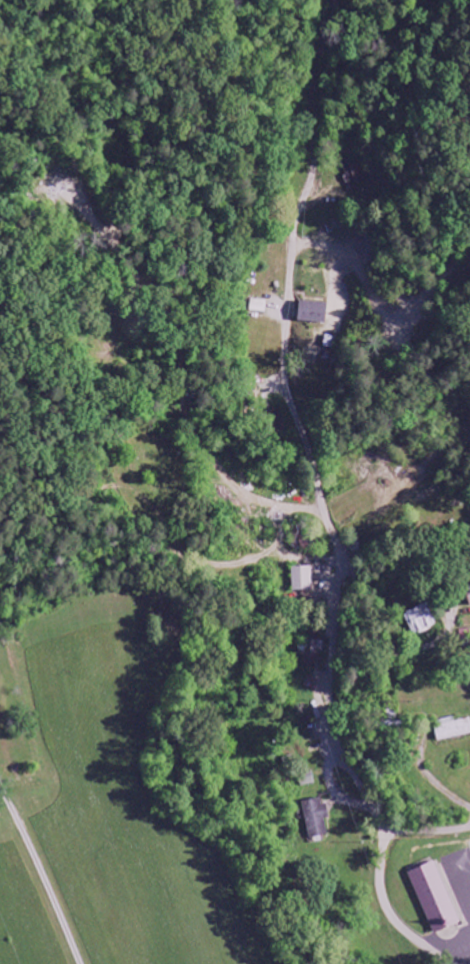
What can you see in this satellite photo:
road: (314, 77)
building: (352, 175)
building: (314, 313)
road: (338, 575)
building: (303, 580)
building: (468, 593)
road: (403, 608)
building: (420, 620)
building: (312, 653)
building: (452, 729)
building: (308, 779)
building: (316, 818)
road: (426, 831)
road: (41, 874)
building: (435, 897)

